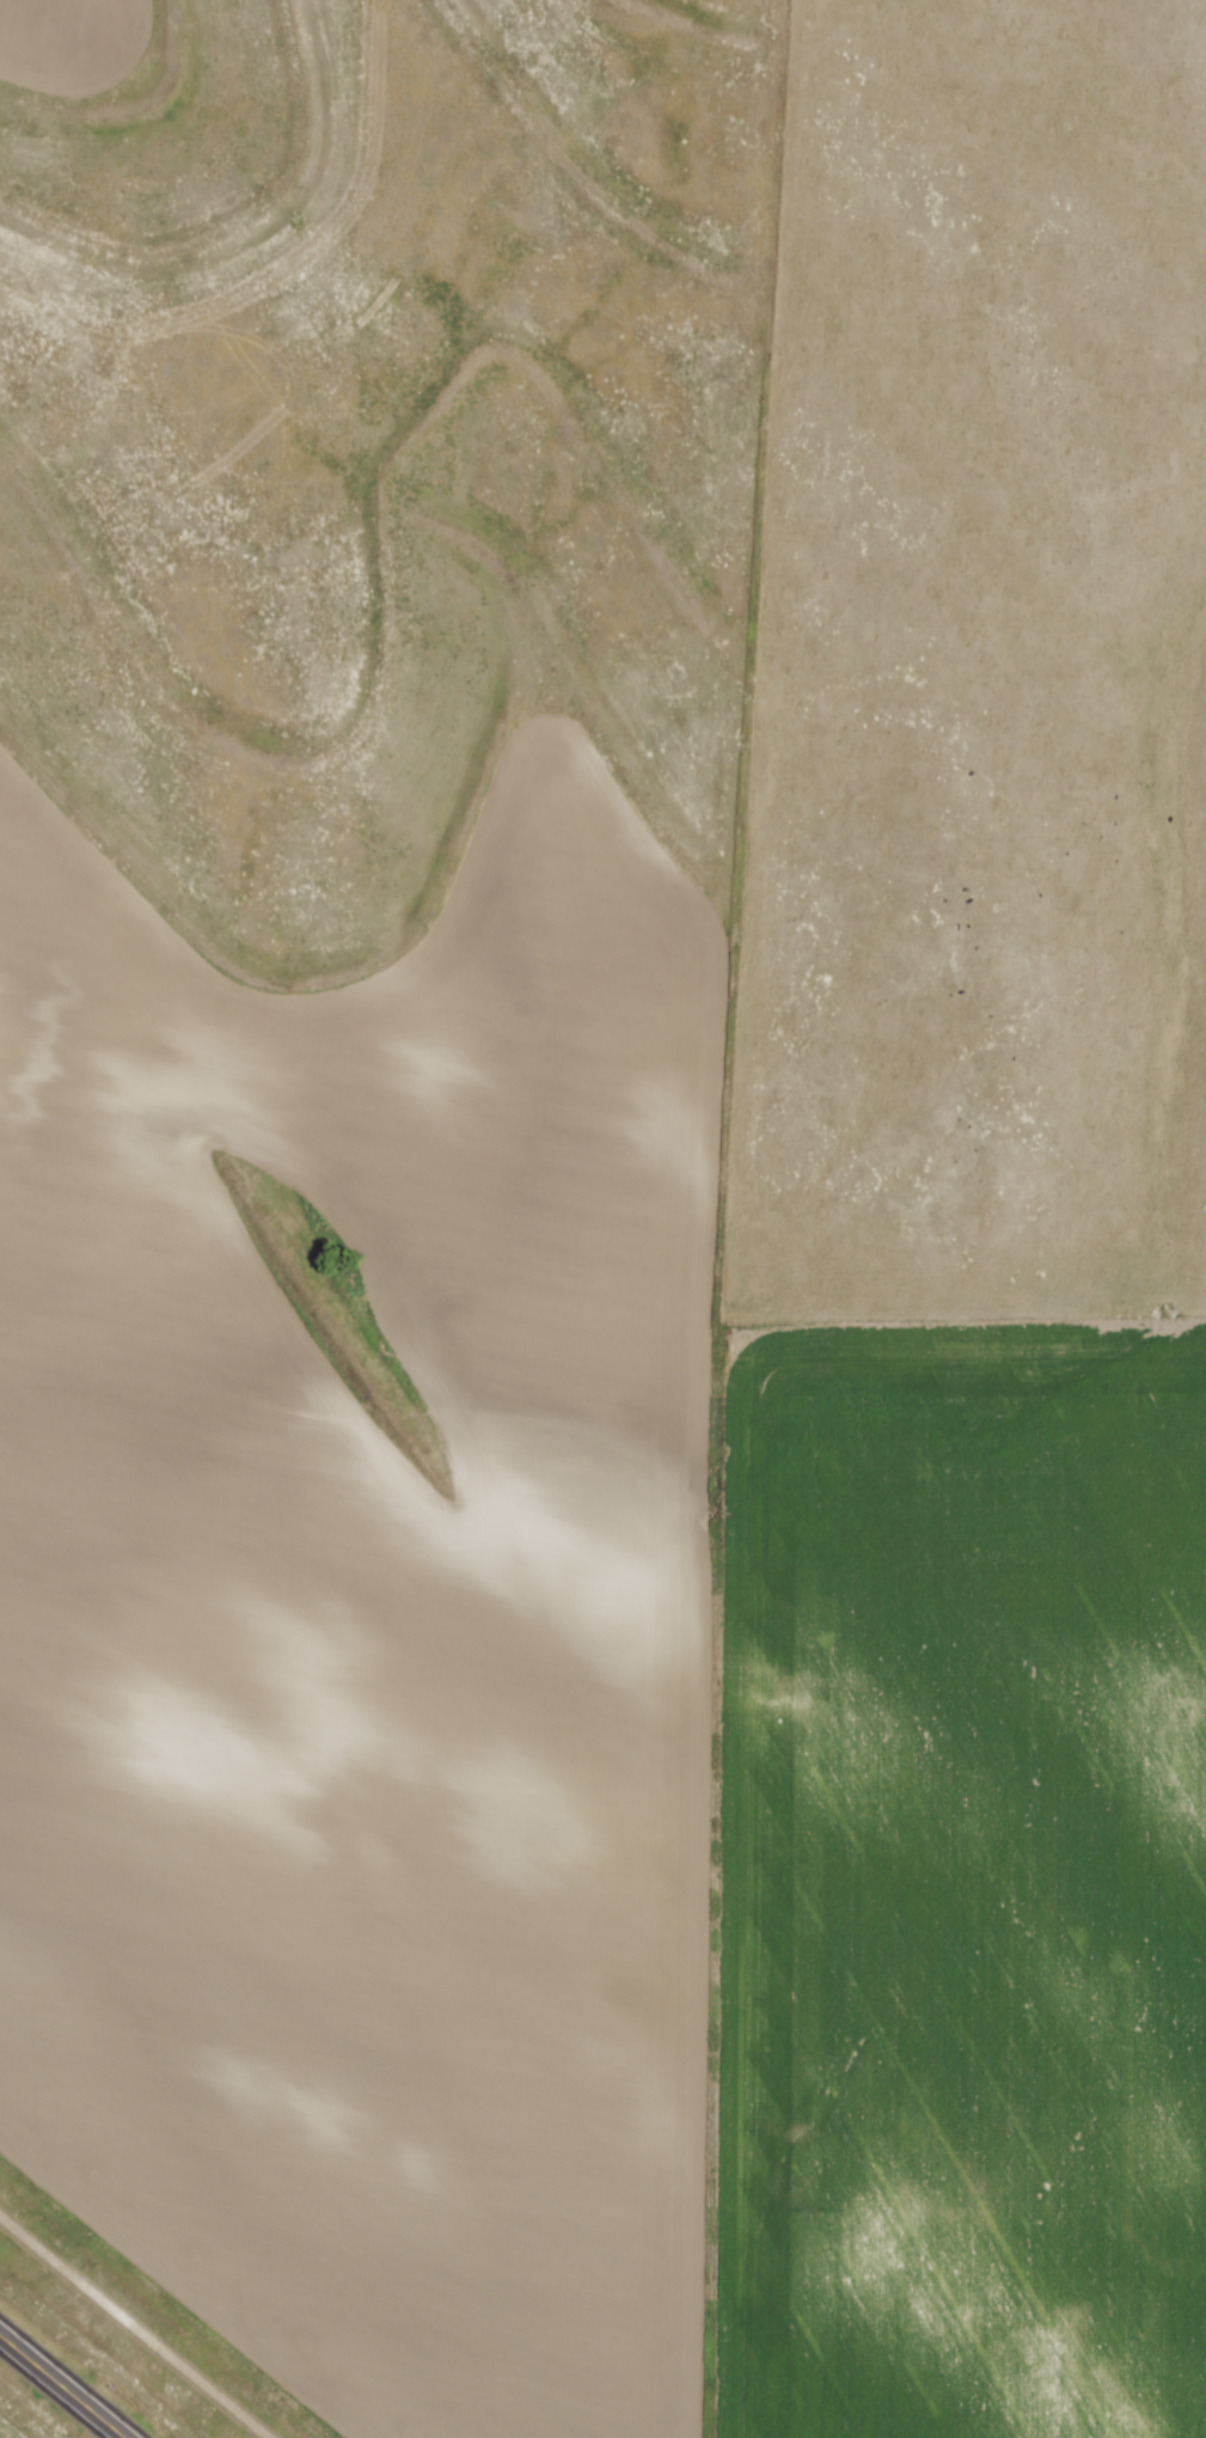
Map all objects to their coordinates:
road: (137, 2324)
road: (63, 2385)

